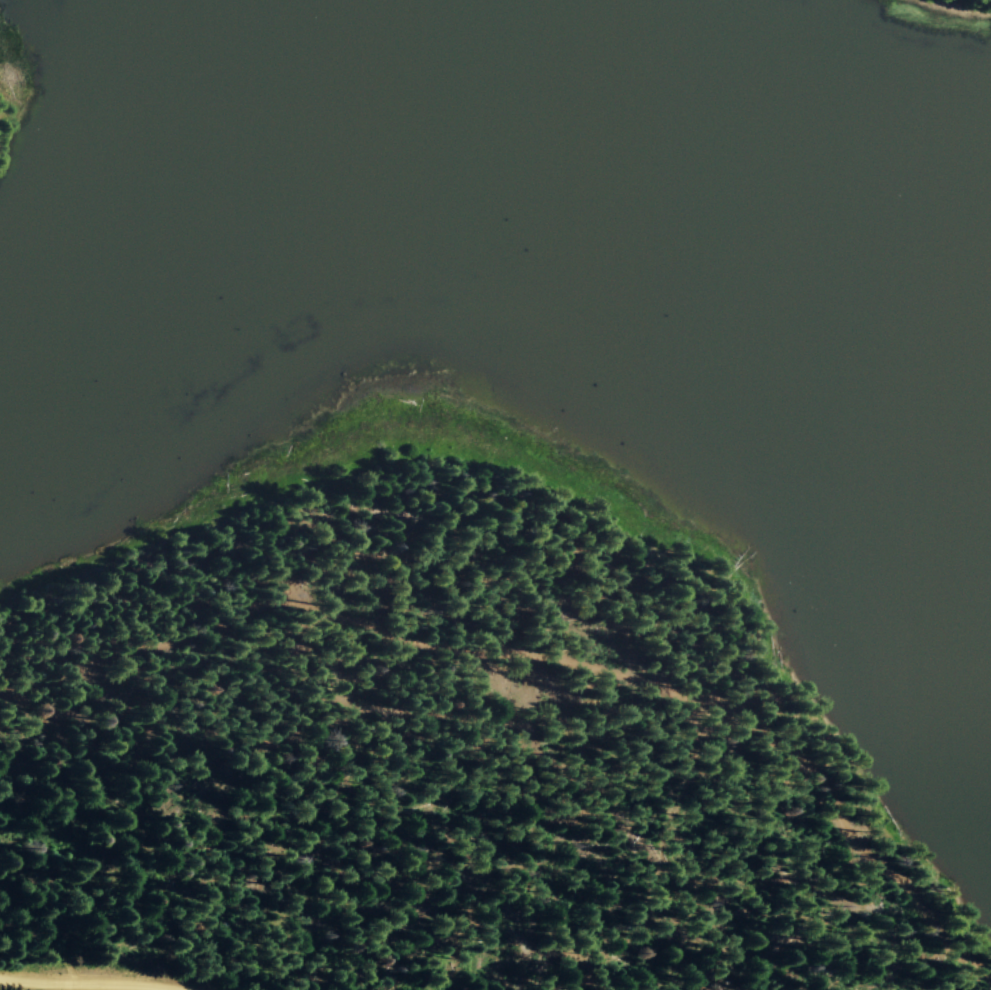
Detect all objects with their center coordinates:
road: (539, 674)
road: (106, 974)

